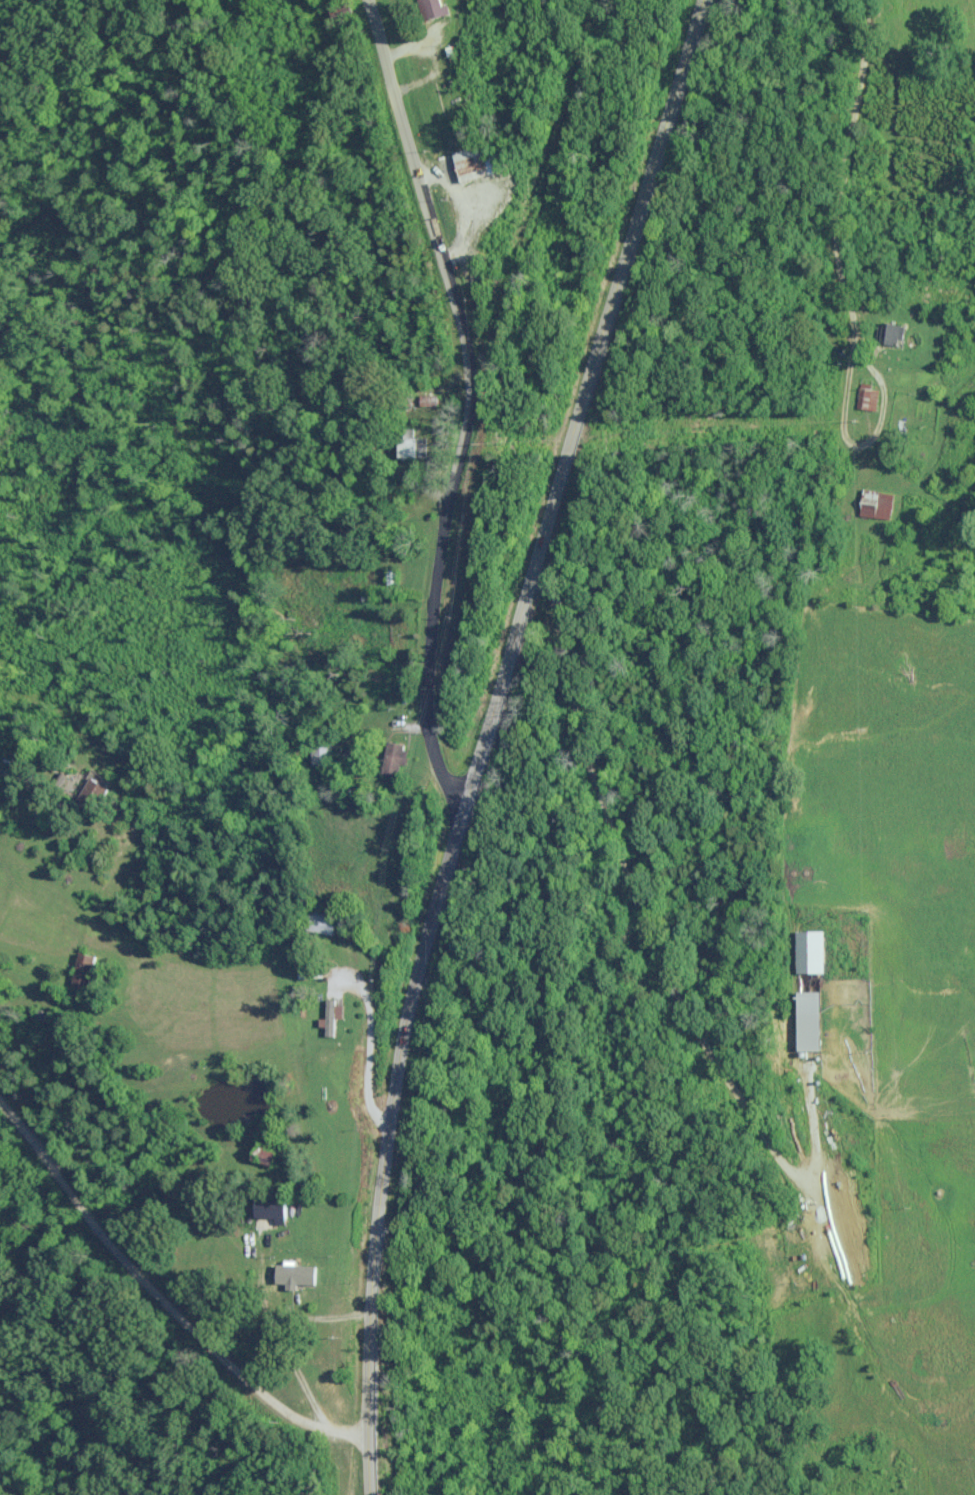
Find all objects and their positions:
building: (437, 9)
building: (343, 13)
building: (483, 162)
road: (843, 212)
building: (894, 333)
building: (868, 397)
road: (474, 399)
building: (415, 446)
building: (879, 503)
building: (392, 577)
road: (488, 738)
building: (320, 748)
building: (399, 753)
road: (17, 772)
building: (104, 779)
building: (84, 967)
building: (338, 1009)
building: (816, 1019)
road: (732, 1047)
building: (268, 1155)
road: (163, 1299)

